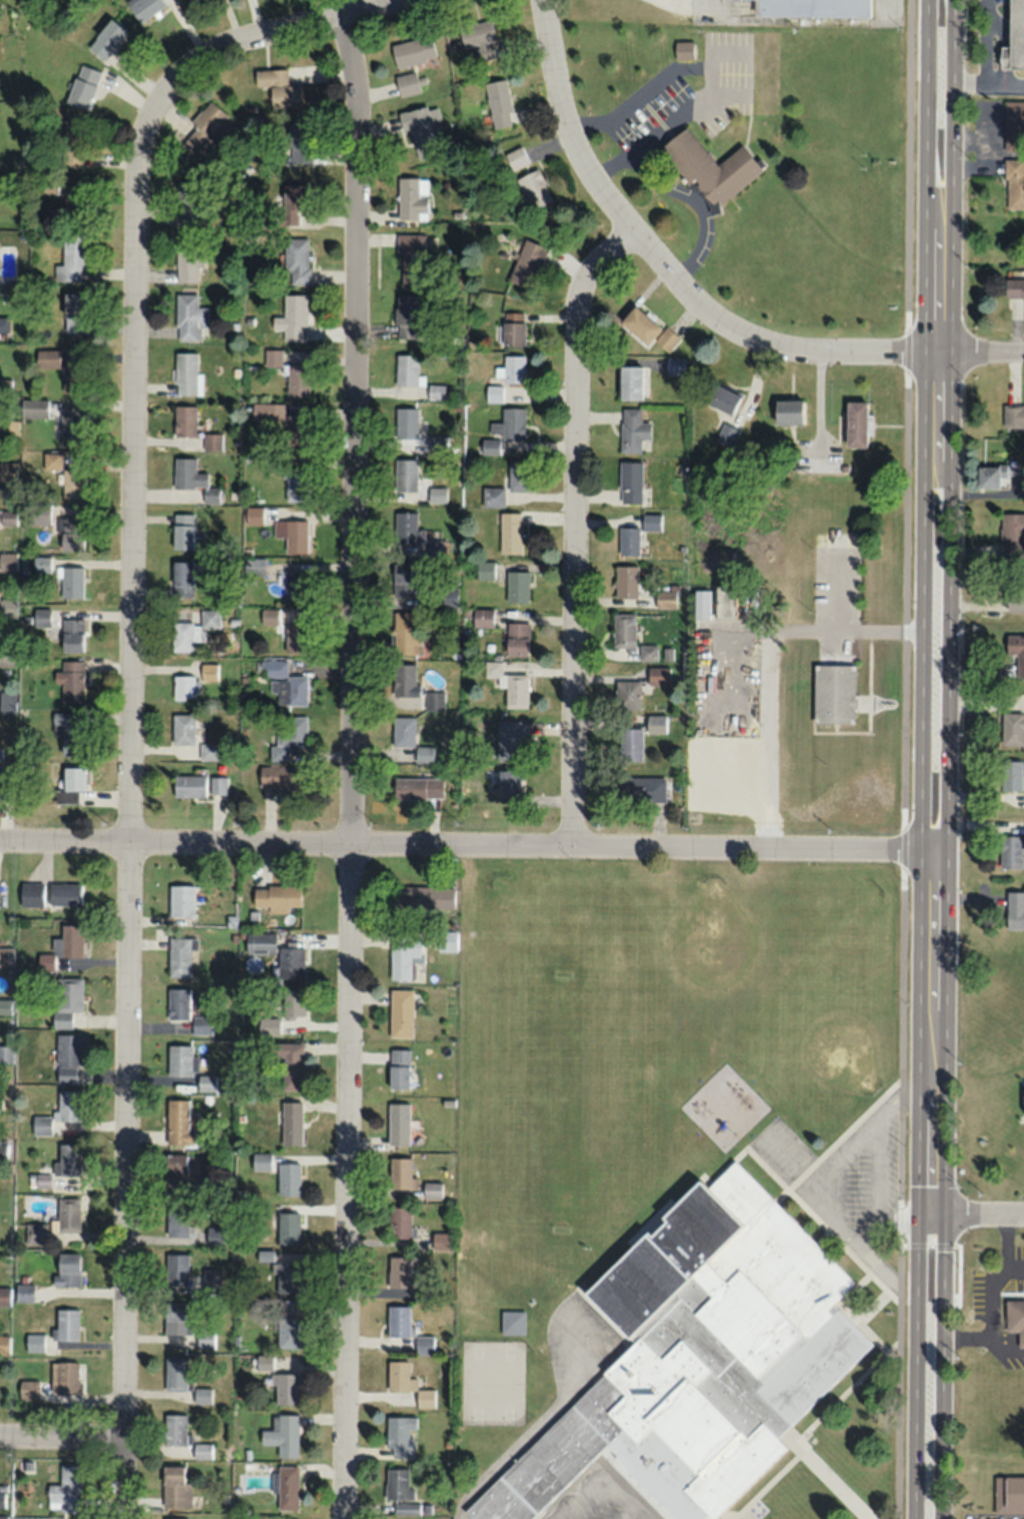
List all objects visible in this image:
building: (184, 0)
building: (145, 8)
building: (813, 8)
building: (1015, 37)
building: (479, 38)
building: (107, 39)
road: (987, 43)
building: (685, 49)
building: (413, 51)
building: (407, 83)
building: (83, 85)
road: (988, 86)
building: (280, 88)
building: (499, 102)
building: (1014, 124)
building: (208, 129)
building: (420, 129)
building: (74, 141)
building: (301, 142)
building: (710, 167)
building: (527, 177)
building: (1015, 183)
building: (412, 197)
building: (75, 200)
building: (294, 201)
building: (187, 203)
building: (186, 258)
building: (71, 259)
building: (411, 259)
building: (296, 260)
building: (527, 263)
building: (1014, 287)
road: (694, 298)
building: (74, 312)
building: (407, 316)
building: (189, 317)
building: (292, 317)
building: (4, 324)
building: (513, 328)
building: (648, 329)
building: (273, 357)
building: (47, 358)
building: (675, 365)
building: (514, 368)
building: (407, 370)
building: (186, 373)
building: (72, 377)
building: (298, 379)
building: (630, 381)
building: (436, 391)
building: (495, 393)
building: (722, 397)
building: (33, 408)
building: (789, 411)
building: (1013, 415)
building: (184, 421)
building: (407, 423)
building: (856, 423)
building: (286, 424)
building: (73, 425)
building: (505, 429)
building: (633, 429)
building: (212, 441)
building: (52, 461)
building: (996, 474)
building: (406, 475)
building: (518, 475)
building: (192, 477)
building: (631, 481)
building: (73, 483)
building: (296, 484)
building: (437, 495)
building: (493, 497)
building: (39, 514)
building: (254, 515)
building: (8, 517)
road: (574, 526)
building: (407, 529)
building: (182, 531)
building: (511, 532)
building: (636, 532)
building: (71, 533)
building: (1012, 534)
building: (296, 536)
building: (8, 561)
building: (254, 566)
building: (484, 570)
building: (182, 579)
building: (626, 581)
building: (70, 582)
building: (407, 583)
building: (296, 584)
building: (517, 586)
building: (450, 596)
building: (1015, 596)
building: (701, 603)
building: (8, 607)
building: (270, 617)
building: (482, 617)
building: (210, 619)
building: (624, 629)
building: (406, 633)
building: (72, 634)
building: (181, 636)
building: (295, 637)
building: (517, 638)
building: (1016, 651)
building: (648, 652)
building: (8, 654)
road: (132, 658)
building: (209, 671)
building: (658, 675)
building: (71, 680)
building: (285, 683)
building: (183, 687)
building: (412, 690)
building: (516, 690)
building: (834, 693)
building: (627, 694)
building: (1023, 694)
building: (656, 724)
building: (183, 728)
building: (1012, 728)
building: (71, 731)
building: (403, 731)
building: (289, 733)
building: (509, 739)
building: (630, 743)
building: (208, 751)
building: (0, 753)
road: (903, 759)
road: (920, 759)
road: (943, 759)
road: (350, 770)
building: (1010, 774)
building: (284, 778)
building: (71, 781)
building: (218, 785)
building: (189, 786)
building: (509, 786)
building: (412, 787)
building: (642, 789)
building: (4, 792)
road: (471, 842)
building: (1010, 851)
building: (64, 894)
building: (31, 895)
building: (275, 897)
building: (423, 897)
building: (181, 900)
building: (1015, 910)
building: (70, 940)
building: (260, 943)
building: (6, 956)
building: (180, 956)
building: (404, 957)
building: (45, 962)
building: (290, 963)
building: (67, 1000)
building: (6, 1003)
building: (178, 1003)
building: (401, 1012)
building: (283, 1014)
building: (202, 1025)
building: (6, 1053)
building: (68, 1056)
building: (288, 1066)
building: (398, 1068)
building: (186, 1070)
building: (67, 1105)
building: (178, 1123)
building: (291, 1123)
building: (398, 1124)
road: (844, 1131)
road: (846, 1152)
building: (68, 1159)
building: (261, 1161)
building: (176, 1170)
building: (401, 1173)
parking lot: (843, 1173)
building: (289, 1178)
road: (876, 1185)
building: (431, 1190)
road: (971, 1212)
building: (68, 1215)
road: (833, 1217)
building: (178, 1220)
building: (399, 1222)
building: (288, 1228)
building: (36, 1233)
building: (442, 1241)
building: (176, 1268)
building: (67, 1269)
road: (884, 1270)
building: (400, 1271)
building: (287, 1277)
road: (883, 1287)
road: (872, 1306)
road: (849, 1314)
building: (175, 1318)
building: (1015, 1318)
building: (399, 1321)
building: (513, 1322)
building: (67, 1325)
building: (288, 1332)
building: (205, 1338)
building: (2, 1342)
building: (34, 1342)
building: (425, 1344)
road: (887, 1351)
building: (698, 1357)
building: (175, 1373)
building: (400, 1376)
building: (66, 1377)
building: (285, 1388)
building: (28, 1389)
building: (202, 1395)
building: (425, 1397)
building: (174, 1429)
road: (62, 1435)
building: (283, 1435)
building: (401, 1436)
building: (202, 1450)
road: (607, 1469)
road: (768, 1482)
building: (397, 1483)
building: (174, 1487)
building: (287, 1487)
building: (66, 1489)
parking lot: (605, 1494)
building: (1009, 1494)
building: (2, 1499)
building: (407, 1508)
road: (625, 1508)
building: (3, 1516)
parking lot: (465, 1516)
building: (174, 1518)

